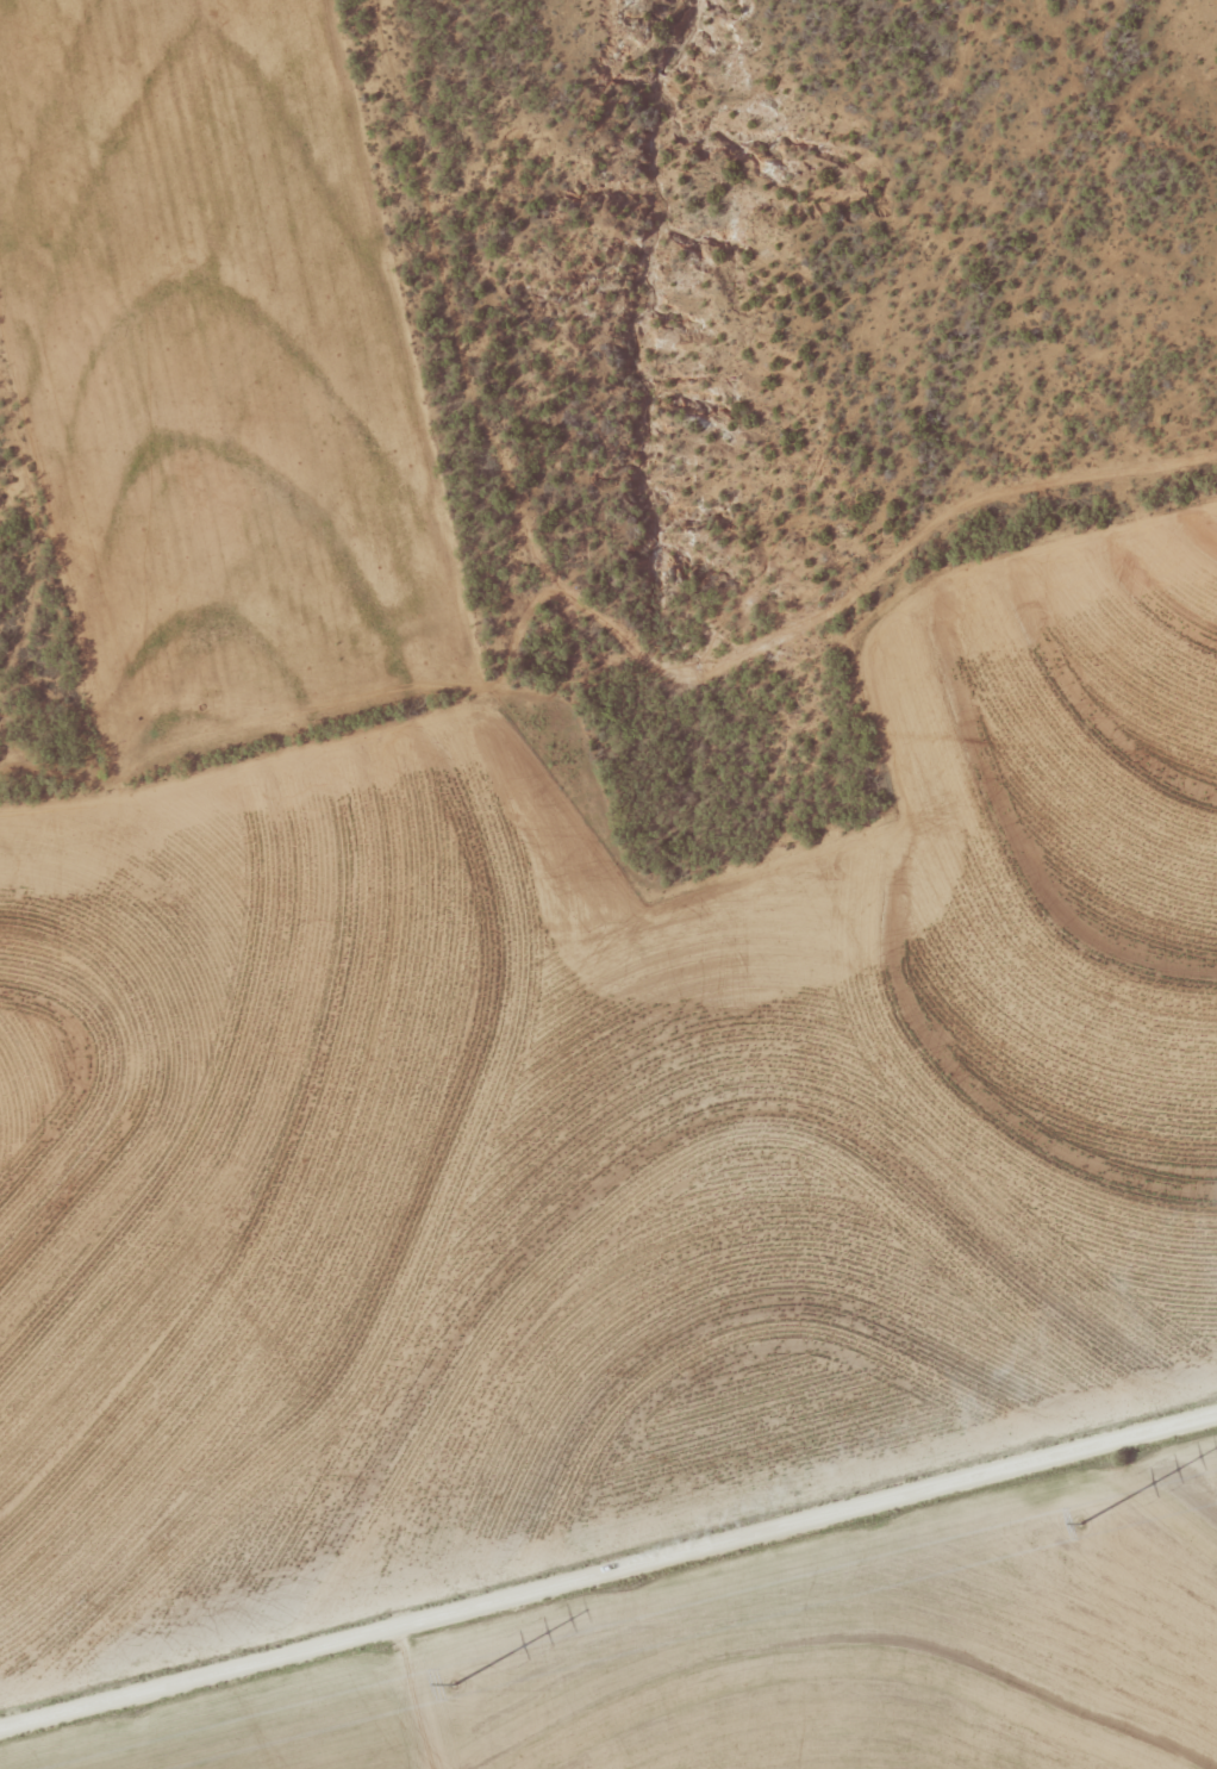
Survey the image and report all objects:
power tower: (1081, 1524)
road: (606, 1580)
power tower: (455, 1684)
road: (414, 1709)

